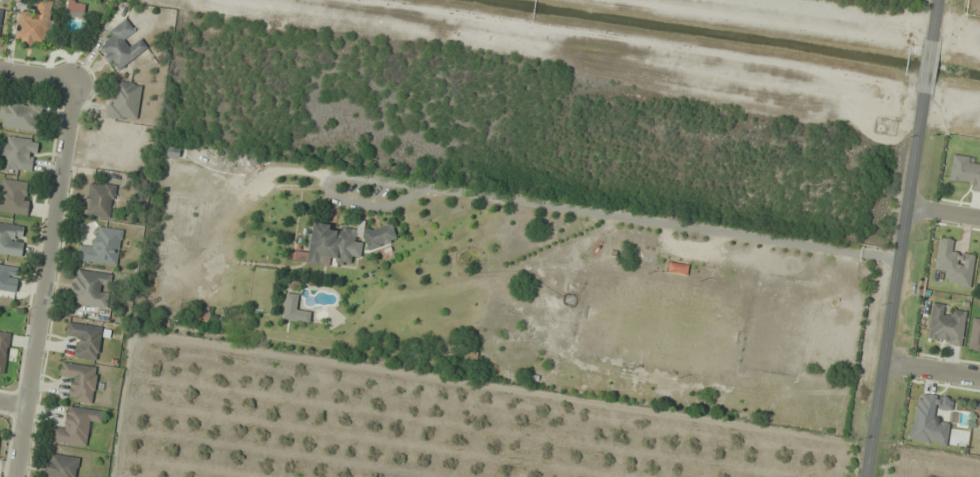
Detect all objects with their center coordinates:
building: (76, 6)
building: (0, 19)
road: (937, 20)
building: (34, 25)
building: (120, 46)
road: (930, 66)
road: (38, 74)
building: (124, 100)
building: (20, 114)
building: (172, 151)
building: (18, 152)
building: (964, 171)
building: (14, 196)
building: (100, 199)
road: (557, 206)
road: (944, 210)
building: (379, 235)
building: (11, 239)
road: (51, 241)
building: (333, 244)
building: (102, 246)
building: (953, 262)
building: (8, 276)
building: (979, 277)
road: (896, 285)
building: (90, 288)
building: (294, 308)
building: (202, 315)
building: (945, 324)
building: (975, 333)
building: (85, 339)
building: (4, 350)
road: (932, 368)
building: (80, 381)
road: (12, 400)
building: (930, 419)
building: (75, 425)
road: (19, 439)
building: (61, 465)

